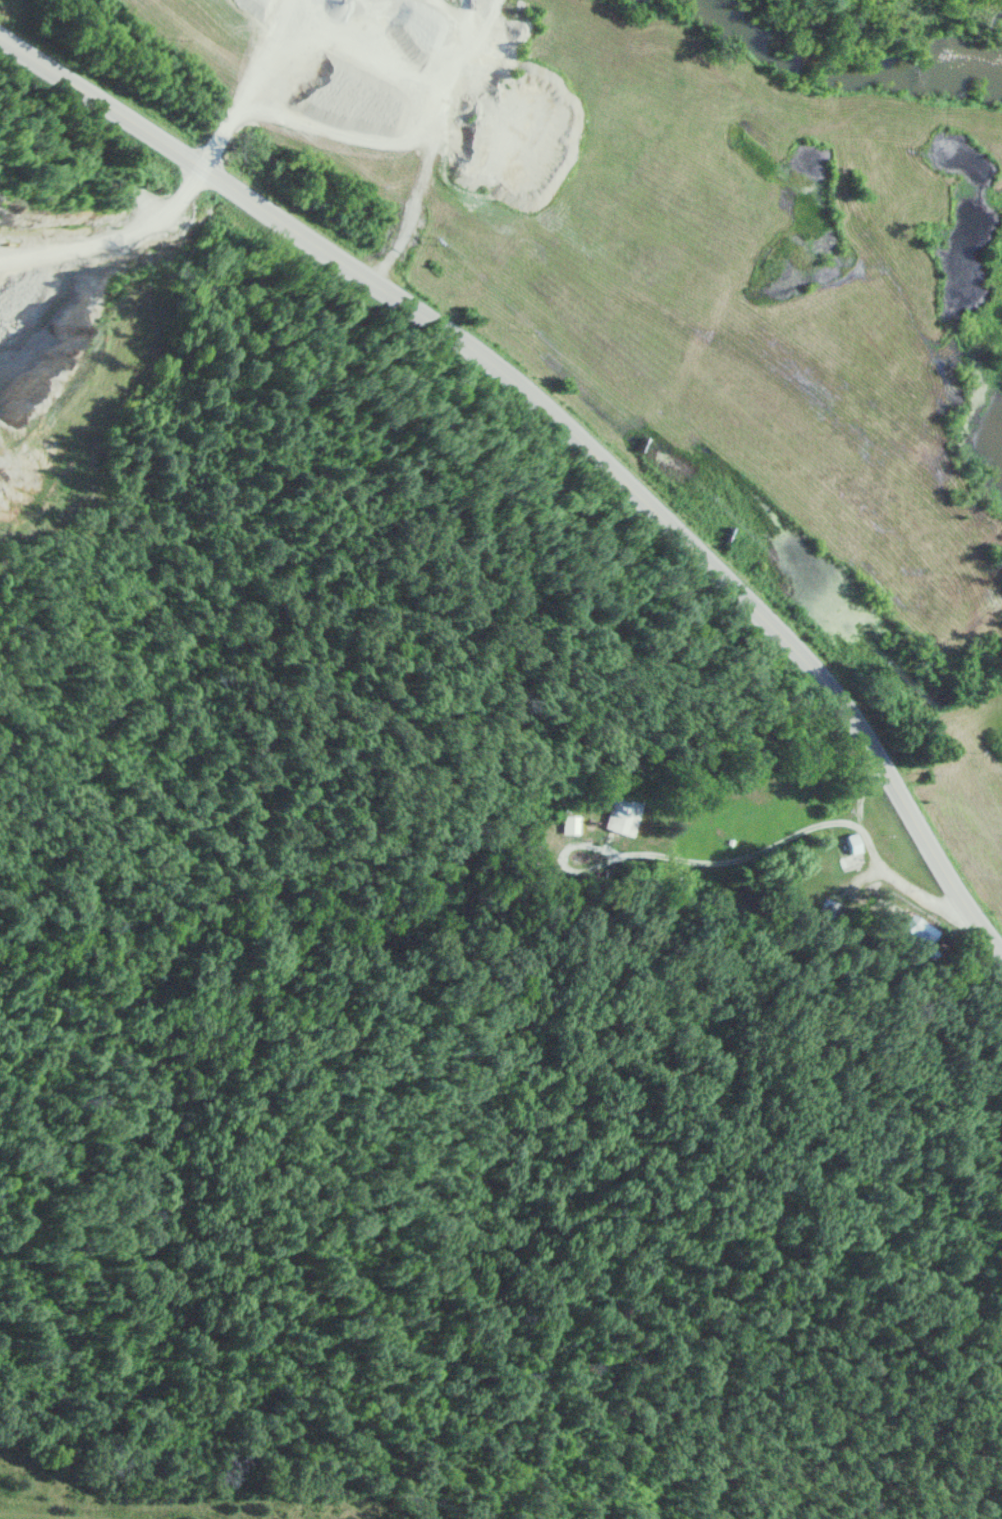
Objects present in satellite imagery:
quarry: (73, 328)
road: (566, 424)
building: (622, 813)
building: (570, 823)
building: (853, 853)
road: (879, 855)
road: (677, 856)
building: (833, 906)
building: (919, 927)

